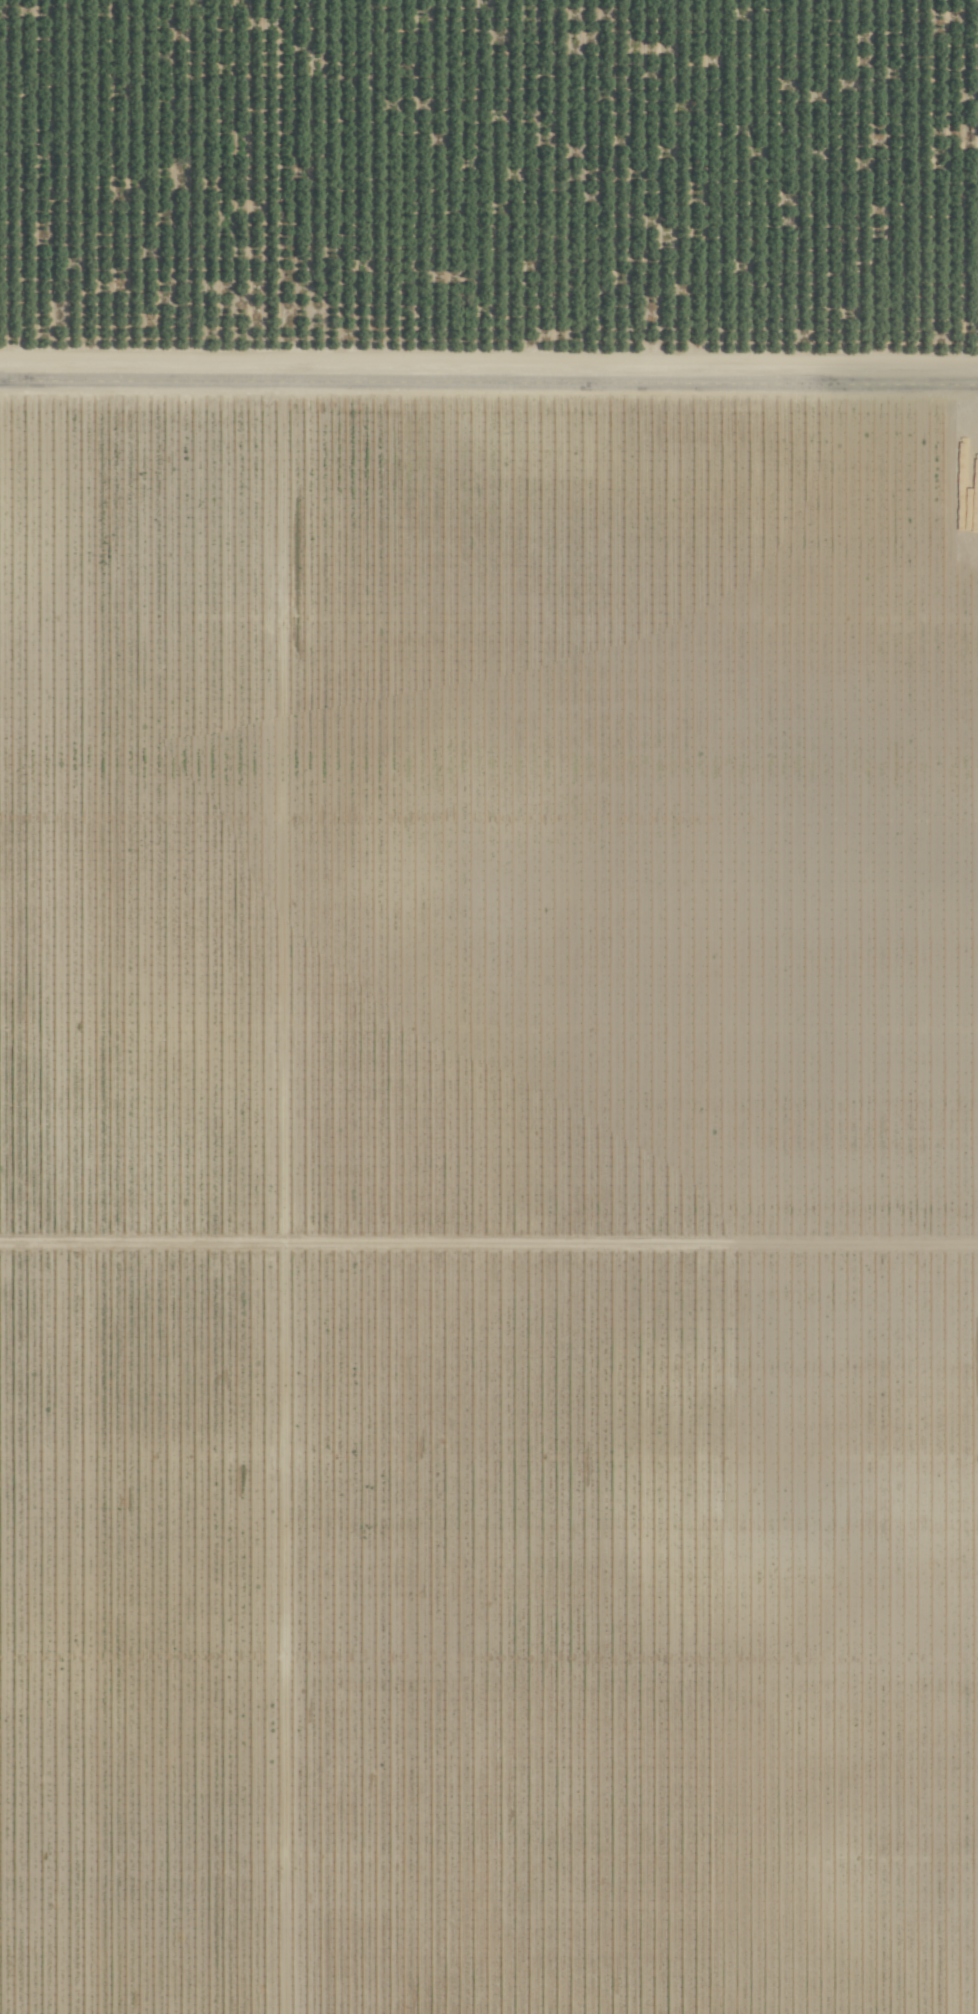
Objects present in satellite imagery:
road: (489, 389)

